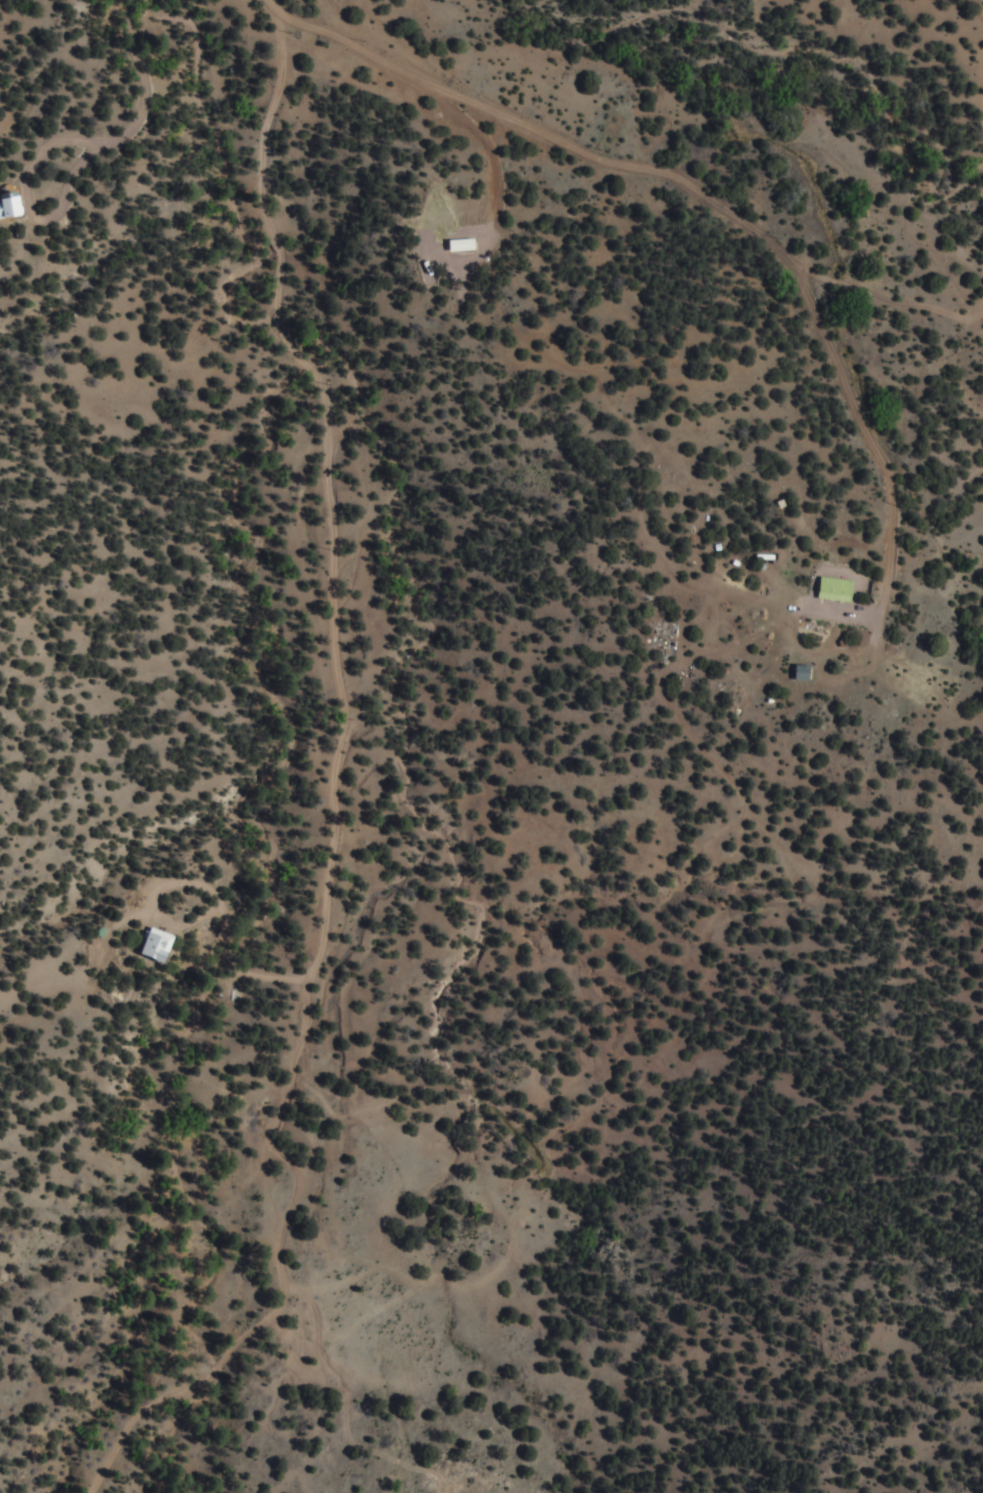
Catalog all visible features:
road: (648, 168)
building: (12, 206)
building: (840, 589)
building: (806, 673)
building: (161, 946)

